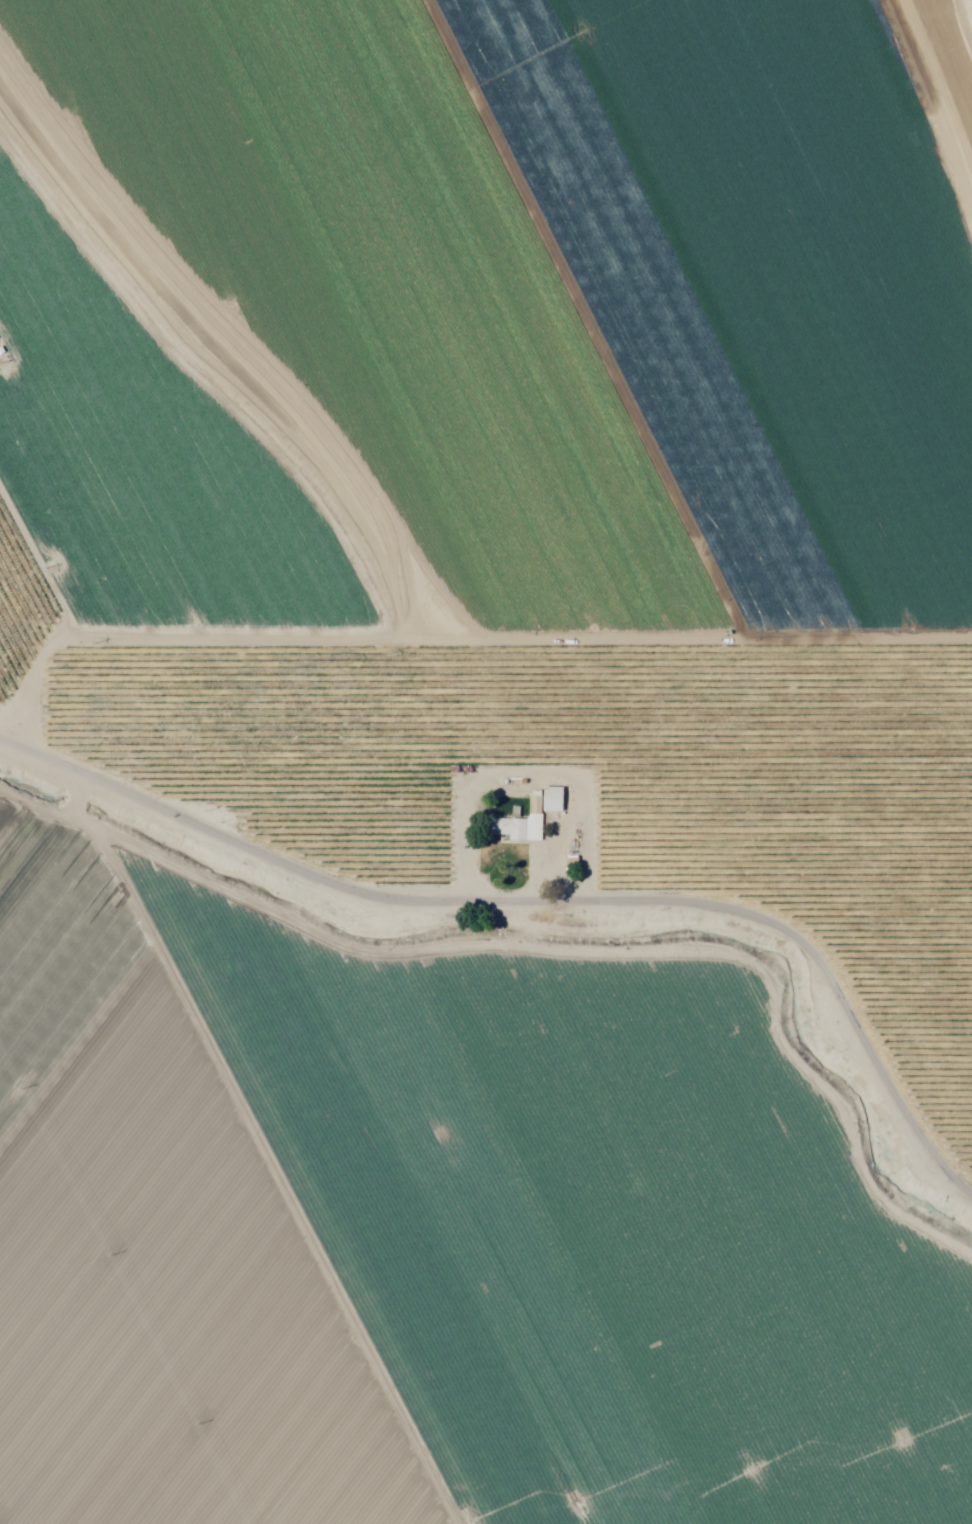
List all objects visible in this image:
road: (202, 355)
road: (121, 682)
crop: (480, 770)
building: (552, 801)
building: (518, 830)
road: (530, 915)
road: (246, 1174)

